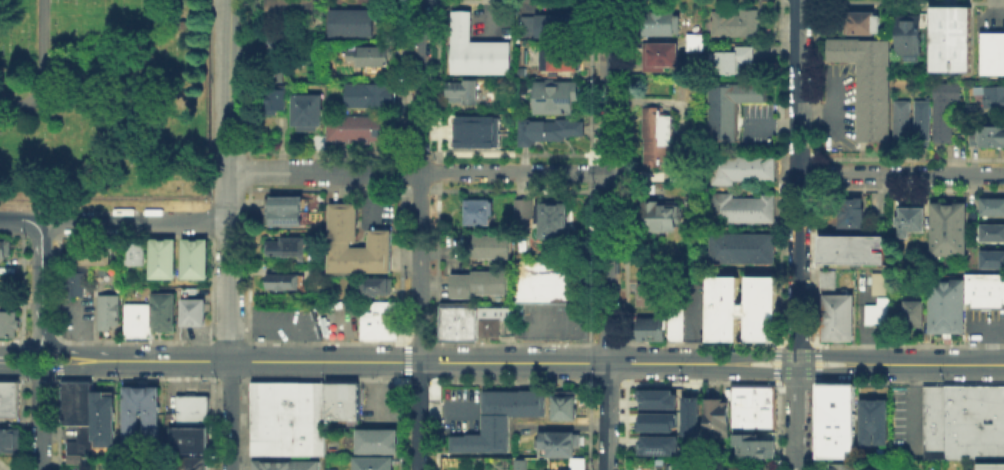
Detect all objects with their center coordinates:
building: (290, 11)
building: (354, 24)
building: (737, 24)
building: (663, 25)
building: (862, 25)
building: (552, 27)
building: (909, 36)
building: (952, 42)
building: (280, 43)
building: (699, 44)
park: (13, 46)
building: (480, 51)
building: (993, 56)
building: (369, 57)
building: (662, 58)
building: (737, 59)
building: (562, 61)
building: (289, 64)
road: (40, 67)
building: (271, 72)
road: (246, 78)
road: (404, 80)
road: (589, 81)
road: (439, 82)
road: (815, 82)
building: (870, 86)
building: (466, 92)
park: (105, 98)
building: (374, 98)
building: (995, 98)
building: (556, 99)
road: (208, 102)
building: (275, 102)
building: (736, 108)
building: (305, 109)
building: (946, 110)
building: (903, 120)
building: (923, 120)
building: (462, 128)
building: (364, 130)
building: (552, 132)
building: (658, 139)
building: (988, 139)
building: (508, 143)
road: (257, 169)
building: (741, 169)
road: (246, 170)
road: (447, 171)
road: (404, 172)
road: (625, 172)
road: (589, 173)
road: (777, 173)
road: (815, 173)
road: (901, 173)
road: (439, 174)
road: (229, 180)
building: (695, 203)
building: (741, 206)
building: (994, 209)
building: (524, 211)
building: (291, 213)
building: (480, 214)
building: (849, 214)
road: (19, 218)
road: (133, 219)
road: (209, 219)
building: (662, 219)
building: (556, 220)
building: (913, 222)
building: (950, 231)
road: (24, 234)
road: (39, 234)
road: (419, 234)
building: (993, 234)
road: (53, 235)
road: (608, 235)
road: (797, 235)
building: (344, 240)
building: (486, 245)
building: (740, 247)
building: (5, 250)
building: (288, 250)
building: (853, 252)
building: (94, 254)
building: (137, 256)
building: (163, 257)
building: (193, 257)
building: (994, 261)
road: (245, 262)
road: (437, 263)
road: (588, 264)
road: (814, 264)
road: (403, 266)
road: (41, 274)
building: (878, 281)
building: (471, 283)
building: (547, 283)
building: (283, 284)
building: (77, 285)
road: (210, 288)
road: (53, 289)
building: (379, 289)
road: (21, 290)
building: (983, 290)
building: (650, 296)
parking lot: (674, 305)
building: (946, 305)
building: (739, 308)
building: (106, 311)
building: (191, 311)
building: (913, 312)
building: (837, 313)
building: (876, 313)
building: (166, 314)
parking lot: (74, 317)
building: (138, 319)
parking lot: (983, 319)
building: (496, 321)
parking lot: (282, 323)
building: (381, 323)
building: (460, 323)
building: (8, 326)
building: (651, 330)
road: (136, 340)
road: (228, 340)
road: (10, 341)
road: (605, 341)
road: (327, 342)
road: (420, 342)
road: (511, 342)
road: (702, 345)
road: (800, 345)
road: (908, 345)
road: (26, 346)
road: (72, 351)
road: (57, 357)
road: (23, 359)
road: (211, 359)
road: (243, 359)
road: (436, 359)
road: (171, 360)
road: (624, 360)
road: (588, 361)
road: (403, 362)
road: (418, 362)
road: (775, 362)
road: (814, 362)
road: (805, 365)
road: (77, 368)
road: (19, 369)
road: (13, 377)
road: (39, 378)
road: (135, 378)
road: (230, 379)
road: (419, 380)
road: (511, 380)
road: (607, 380)
road: (326, 382)
road: (799, 383)
road: (909, 384)
road: (702, 385)
building: (656, 398)
building: (9, 399)
building: (78, 404)
building: (751, 405)
building: (566, 407)
parking lot: (463, 409)
building: (194, 410)
road: (228, 415)
building: (689, 415)
building: (299, 418)
building: (496, 419)
building: (715, 419)
road: (40, 420)
building: (143, 420)
building: (655, 420)
building: (105, 421)
road: (435, 421)
road: (21, 422)
road: (56, 422)
road: (244, 422)
road: (212, 423)
road: (587, 423)
road: (624, 423)
road: (776, 423)
building: (837, 423)
building: (874, 423)
building: (965, 423)
road: (401, 424)
road: (814, 424)
building: (10, 441)
building: (190, 442)
building: (378, 444)
building: (751, 444)
building: (559, 445)
building: (656, 445)
building: (80, 446)
building: (192, 465)
building: (375, 465)
building: (523, 465)
building: (285, 466)
building: (990, 466)
building: (844, 467)
building: (650, 468)

